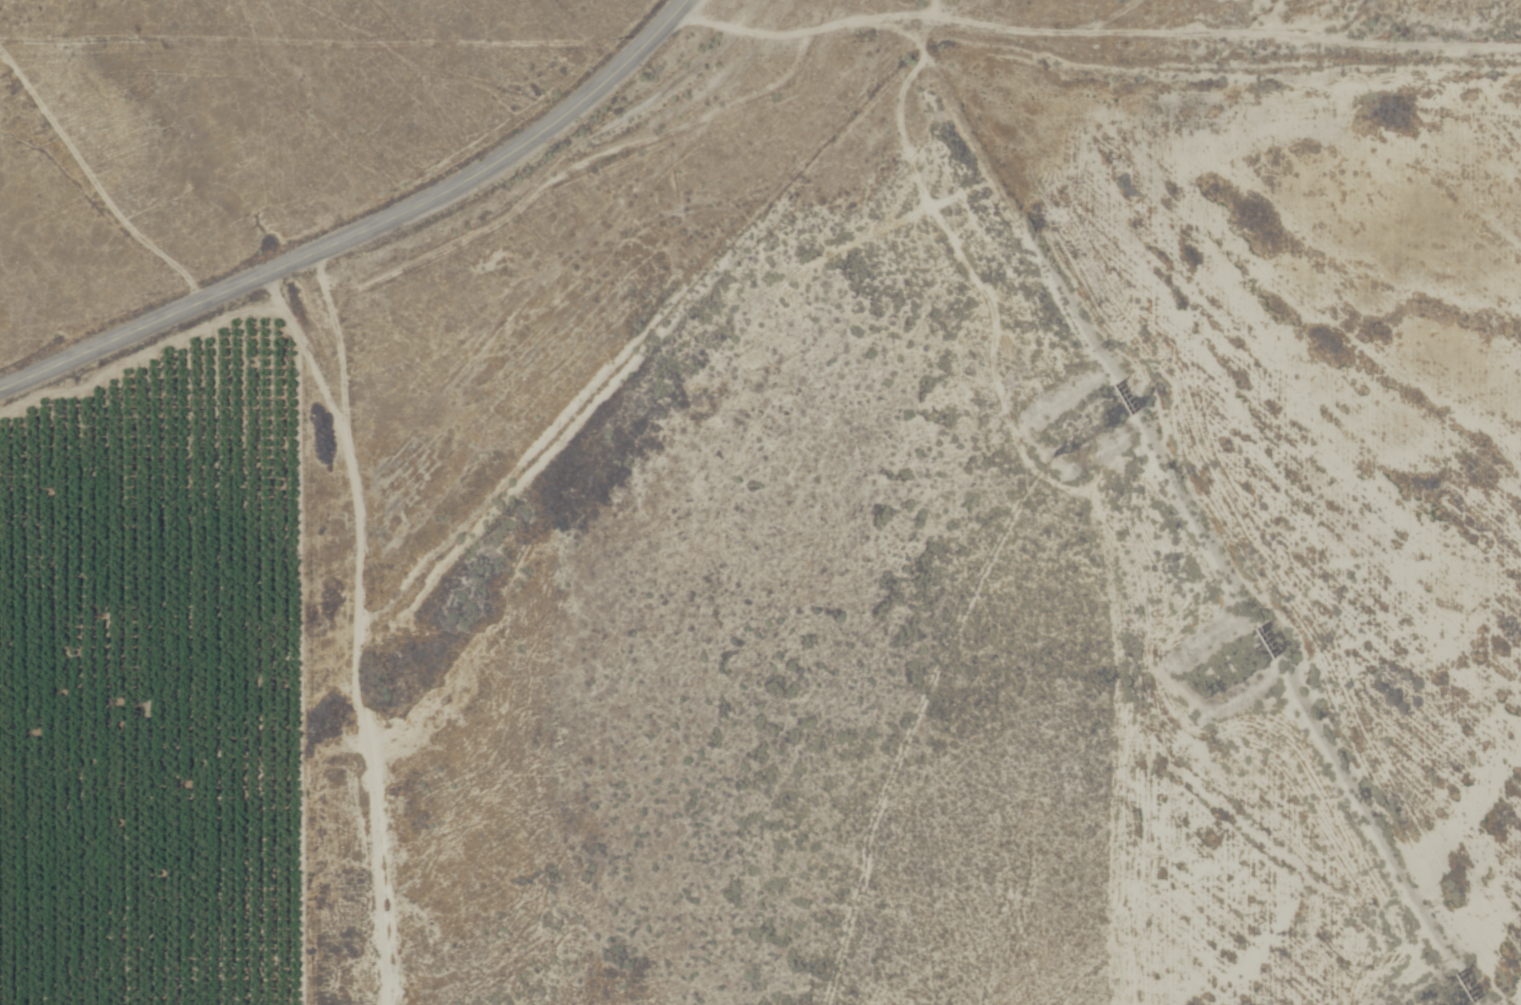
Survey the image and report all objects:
road: (916, 46)
road: (363, 227)
road: (361, 624)
road: (1032, 821)

